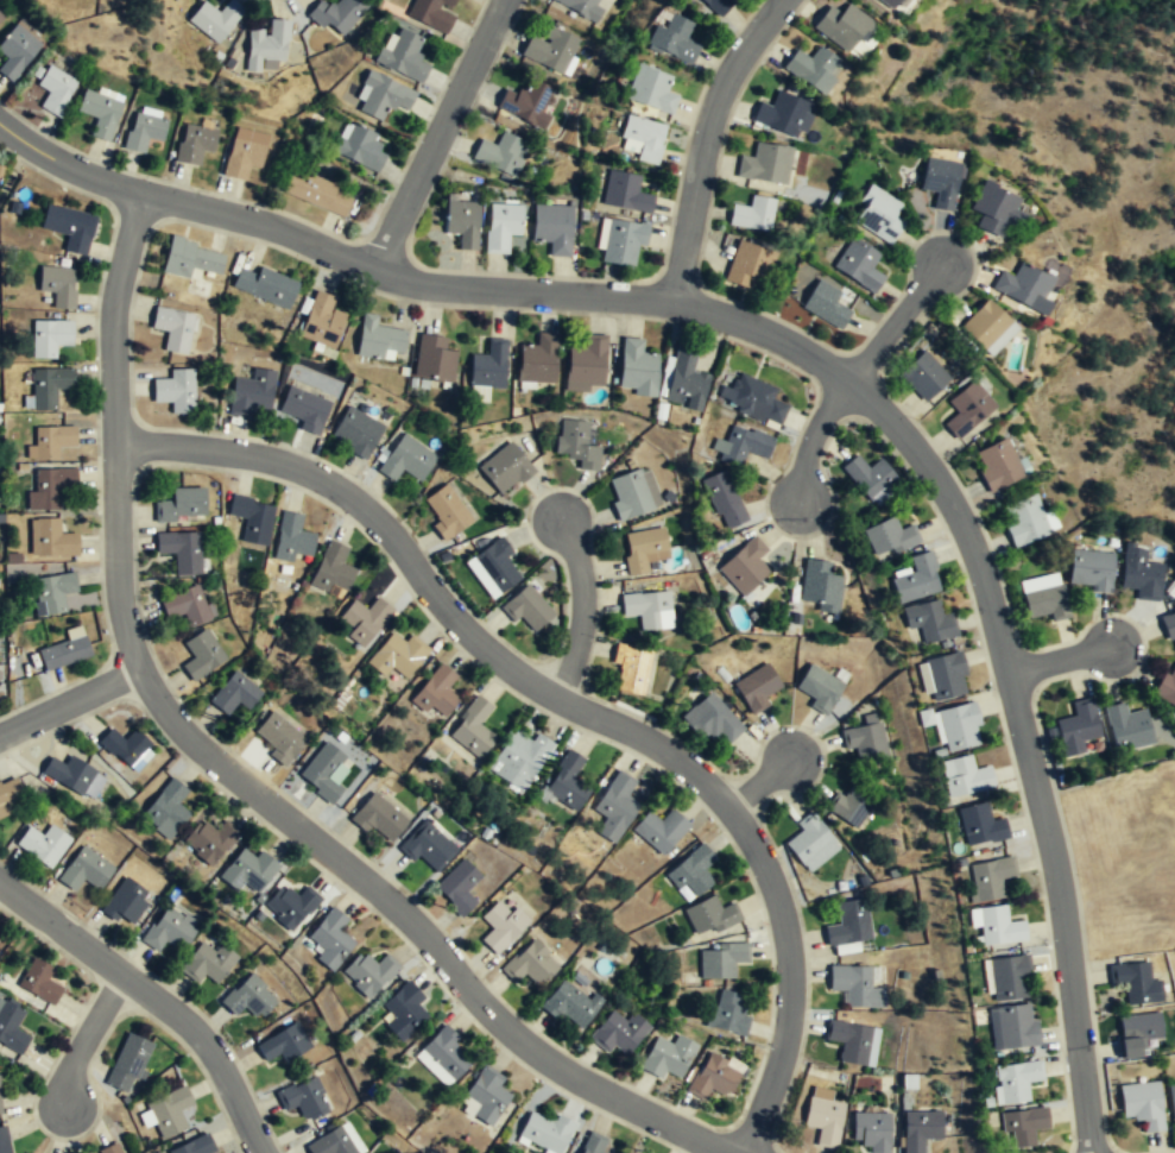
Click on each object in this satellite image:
street lamp: (284, 0)
building: (889, 4)
building: (715, 5)
building: (579, 7)
building: (431, 12)
building: (339, 15)
building: (215, 19)
building: (0, 21)
building: (841, 27)
building: (672, 40)
building: (267, 48)
building: (550, 50)
building: (17, 51)
building: (403, 55)
building: (811, 68)
building: (55, 90)
building: (651, 92)
building: (383, 95)
building: (526, 103)
building: (100, 113)
building: (784, 114)
building: (144, 128)
street lamp: (683, 131)
road: (437, 134)
street lamp: (412, 138)
building: (642, 140)
road: (703, 140)
building: (194, 144)
building: (361, 149)
building: (244, 152)
building: (503, 155)
building: (766, 163)
road: (67, 164)
street lamp: (159, 176)
building: (939, 179)
building: (625, 194)
building: (318, 195)
building: (992, 208)
building: (752, 213)
building: (879, 215)
road: (260, 221)
building: (462, 221)
building: (501, 226)
building: (69, 228)
building: (551, 228)
building: (623, 244)
building: (191, 259)
street lamp: (305, 264)
building: (748, 264)
street lamp: (902, 264)
building: (859, 265)
building: (58, 286)
building: (265, 286)
building: (1023, 288)
road: (520, 292)
building: (827, 303)
street lamp: (617, 319)
building: (321, 322)
road: (896, 322)
building: (987, 328)
building: (172, 329)
road: (763, 332)
building: (49, 335)
building: (378, 341)
building: (432, 360)
building: (538, 361)
building: (586, 365)
building: (488, 368)
building: (637, 368)
building: (665, 376)
building: (923, 376)
building: (684, 380)
building: (49, 385)
building: (176, 391)
building: (252, 395)
building: (751, 399)
building: (304, 410)
building: (967, 411)
street lamp: (916, 418)
road: (114, 431)
building: (356, 433)
street lamp: (795, 434)
road: (810, 439)
building: (51, 440)
building: (577, 445)
building: (743, 445)
building: (406, 460)
building: (1000, 465)
building: (506, 471)
building: (871, 478)
building: (49, 486)
street lamp: (547, 486)
building: (632, 496)
building: (179, 503)
building: (725, 503)
road: (367, 511)
road: (955, 512)
building: (447, 514)
building: (251, 517)
building: (1026, 522)
building: (291, 536)
building: (53, 538)
building: (889, 538)
building: (181, 549)
building: (643, 550)
building: (495, 566)
building: (331, 567)
building: (744, 567)
building: (1091, 569)
building: (1141, 574)
building: (916, 580)
street lamp: (964, 584)
building: (819, 586)
building: (52, 591)
building: (1043, 598)
building: (184, 604)
building: (528, 609)
road: (581, 610)
building: (645, 610)
building: (365, 617)
building: (929, 623)
building: (1169, 626)
street lamp: (598, 638)
building: (63, 653)
building: (398, 653)
building: (201, 654)
road: (1059, 660)
building: (631, 668)
building: (946, 678)
street lamp: (1127, 680)
building: (817, 687)
building: (436, 689)
building: (757, 689)
building: (1165, 692)
building: (234, 693)
road: (69, 704)
building: (715, 720)
building: (473, 725)
street lamp: (813, 727)
building: (958, 727)
building: (1127, 727)
building: (1076, 729)
street lamp: (999, 735)
building: (279, 736)
building: (865, 741)
building: (125, 746)
street lamp: (619, 750)
building: (522, 757)
building: (323, 770)
building: (74, 776)
building: (964, 777)
building: (568, 780)
road: (760, 783)
street lamp: (282, 787)
building: (8, 794)
building: (617, 799)
building: (853, 804)
building: (166, 808)
building: (378, 815)
building: (979, 826)
building: (661, 828)
building: (210, 842)
building: (811, 842)
building: (427, 844)
building: (43, 845)
building: (247, 869)
building: (693, 869)
building: (86, 870)
road: (767, 877)
building: (988, 878)
building: (459, 886)
building: (124, 900)
building: (291, 903)
road: (1061, 911)
building: (710, 914)
building: (501, 925)
building: (849, 925)
building: (998, 927)
road: (62, 928)
building: (168, 928)
road: (422, 932)
building: (0, 937)
building: (330, 937)
street lamp: (1043, 940)
street lamp: (416, 958)
building: (722, 959)
building: (207, 962)
building: (530, 963)
building: (369, 971)
building: (1009, 979)
building: (39, 981)
building: (1136, 984)
building: (855, 988)
building: (247, 996)
building: (570, 1003)
building: (404, 1009)
building: (727, 1013)
building: (12, 1028)
building: (1011, 1029)
building: (619, 1031)
building: (1136, 1034)
road: (84, 1035)
building: (284, 1042)
building: (849, 1042)
road: (209, 1050)
building: (446, 1051)
building: (668, 1054)
building: (128, 1063)
building: (713, 1077)
street lamp: (627, 1082)
building: (1015, 1083)
building: (487, 1094)
building: (303, 1097)
building: (1171, 1101)
building: (1142, 1105)
building: (0, 1107)
building: (169, 1113)
building: (823, 1117)
building: (1022, 1128)
building: (920, 1130)
building: (547, 1133)
building: (871, 1133)
street lamp: (1068, 1139)
building: (4, 1141)
building: (331, 1142)
building: (593, 1143)
building: (197, 1146)
building: (112, 1149)

